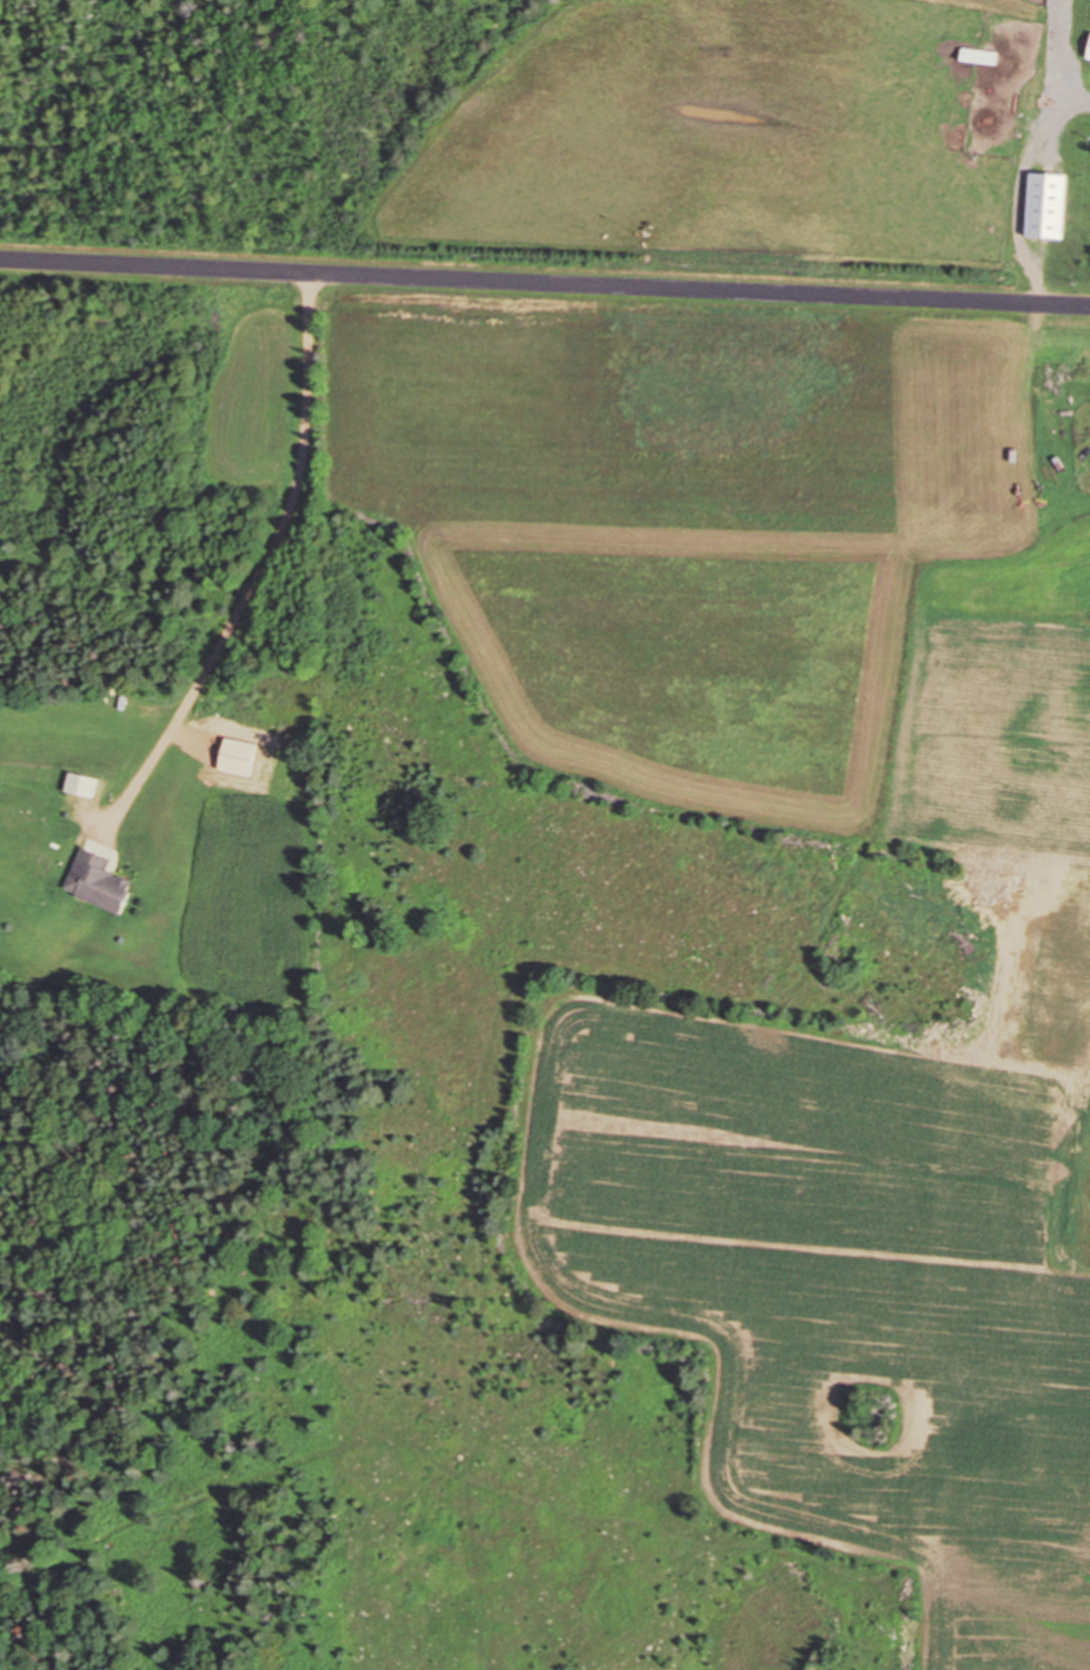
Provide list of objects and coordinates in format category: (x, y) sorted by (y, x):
building: (1087, 49)
building: (976, 55)
building: (1022, 79)
building: (1044, 205)
road: (544, 283)
building: (95, 881)

